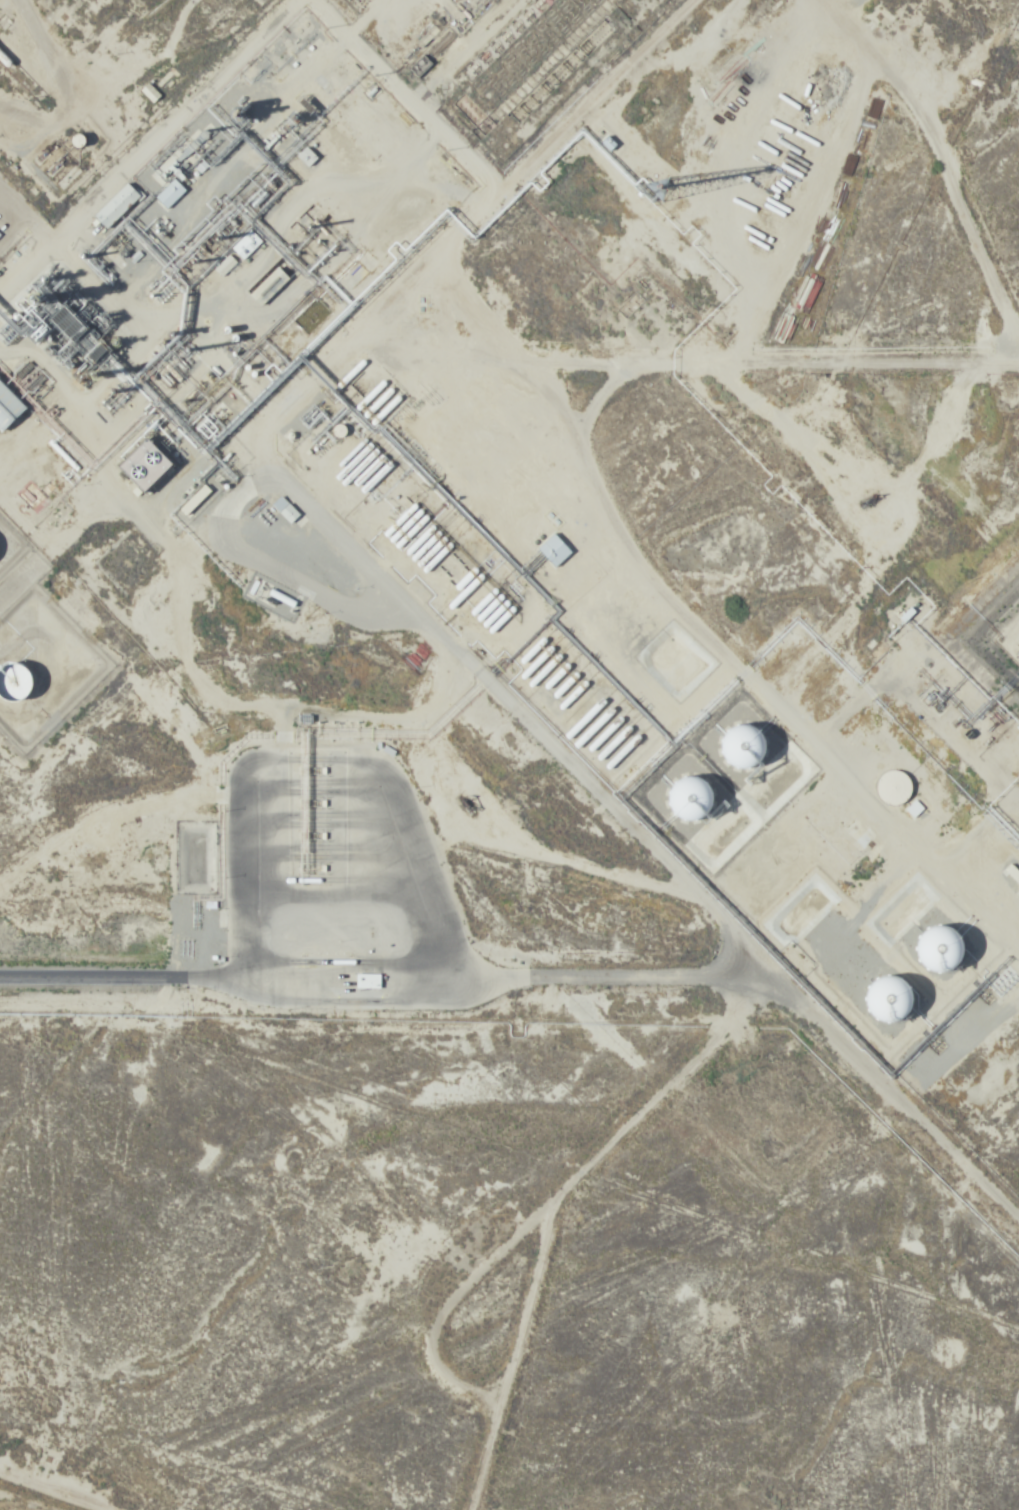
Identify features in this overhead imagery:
building: (150, 92)
building: (308, 156)
road: (600, 188)
building: (171, 193)
building: (118, 205)
building: (0, 234)
building: (247, 244)
building: (270, 285)
building: (312, 316)
road: (64, 368)
road: (655, 387)
building: (149, 465)
building: (290, 514)
building: (555, 550)
road: (777, 669)
building: (16, 681)
road: (530, 684)
building: (746, 747)
building: (894, 787)
building: (691, 800)
building: (1013, 873)
road: (940, 900)
road: (380, 971)
road: (1006, 977)
building: (368, 980)
road: (545, 1204)
road: (72, 1484)

